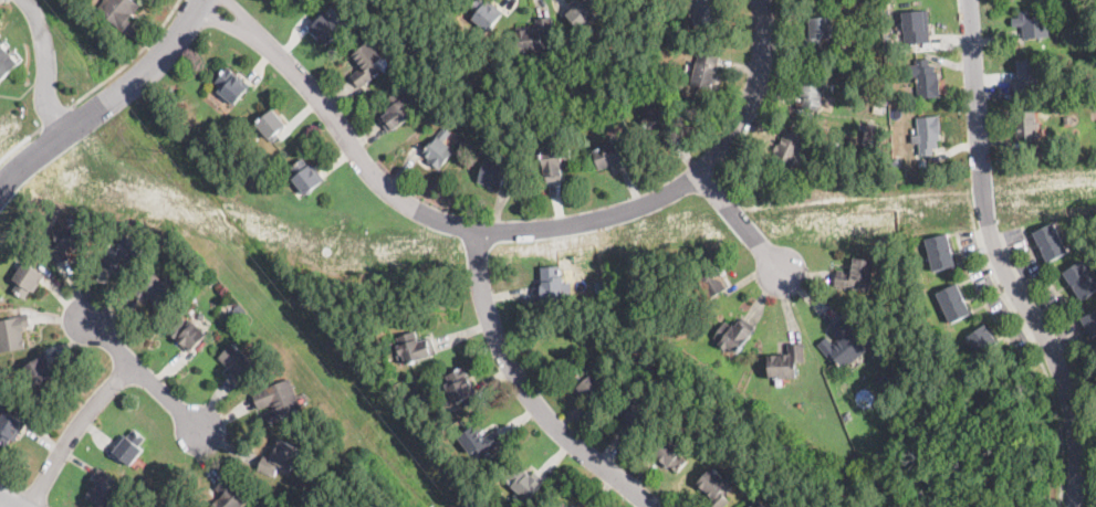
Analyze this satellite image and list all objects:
building: (118, 11)
building: (583, 12)
building: (483, 13)
building: (703, 13)
building: (450, 18)
building: (1031, 24)
building: (916, 25)
building: (326, 28)
building: (675, 30)
building: (817, 31)
building: (535, 35)
building: (887, 44)
building: (8, 57)
road: (128, 57)
road: (48, 62)
building: (366, 63)
building: (706, 70)
building: (1025, 75)
building: (925, 77)
building: (601, 81)
building: (231, 85)
building: (871, 89)
building: (812, 91)
road: (105, 98)
building: (555, 104)
building: (876, 106)
building: (1056, 107)
building: (397, 110)
road: (55, 115)
building: (1068, 118)
building: (505, 119)
building: (660, 122)
building: (271, 124)
building: (1025, 124)
building: (874, 133)
building: (927, 134)
road: (20, 141)
building: (789, 147)
building: (439, 150)
power tower: (157, 154)
building: (612, 155)
building: (554, 161)
building: (897, 162)
building: (493, 171)
building: (305, 176)
road: (740, 223)
road: (509, 229)
building: (1051, 241)
building: (66, 242)
building: (288, 243)
building: (121, 252)
building: (940, 252)
road: (999, 261)
building: (856, 275)
building: (1082, 278)
building: (27, 279)
building: (711, 283)
building: (551, 284)
building: (155, 291)
building: (953, 303)
building: (239, 309)
building: (1090, 323)
building: (239, 331)
building: (13, 332)
building: (188, 334)
building: (732, 336)
building: (982, 339)
road: (1031, 341)
building: (843, 345)
building: (415, 348)
building: (881, 349)
building: (786, 361)
building: (237, 362)
building: (40, 370)
road: (143, 374)
building: (735, 382)
building: (459, 384)
building: (589, 387)
road: (524, 389)
building: (278, 400)
building: (634, 418)
building: (9, 427)
road: (72, 431)
building: (480, 440)
building: (132, 446)
building: (669, 454)
building: (280, 457)
building: (877, 460)
building: (523, 482)
building: (104, 487)
building: (714, 488)
building: (230, 495)
road: (7, 503)
building: (758, 504)
building: (564, 505)
building: (574, 506)

